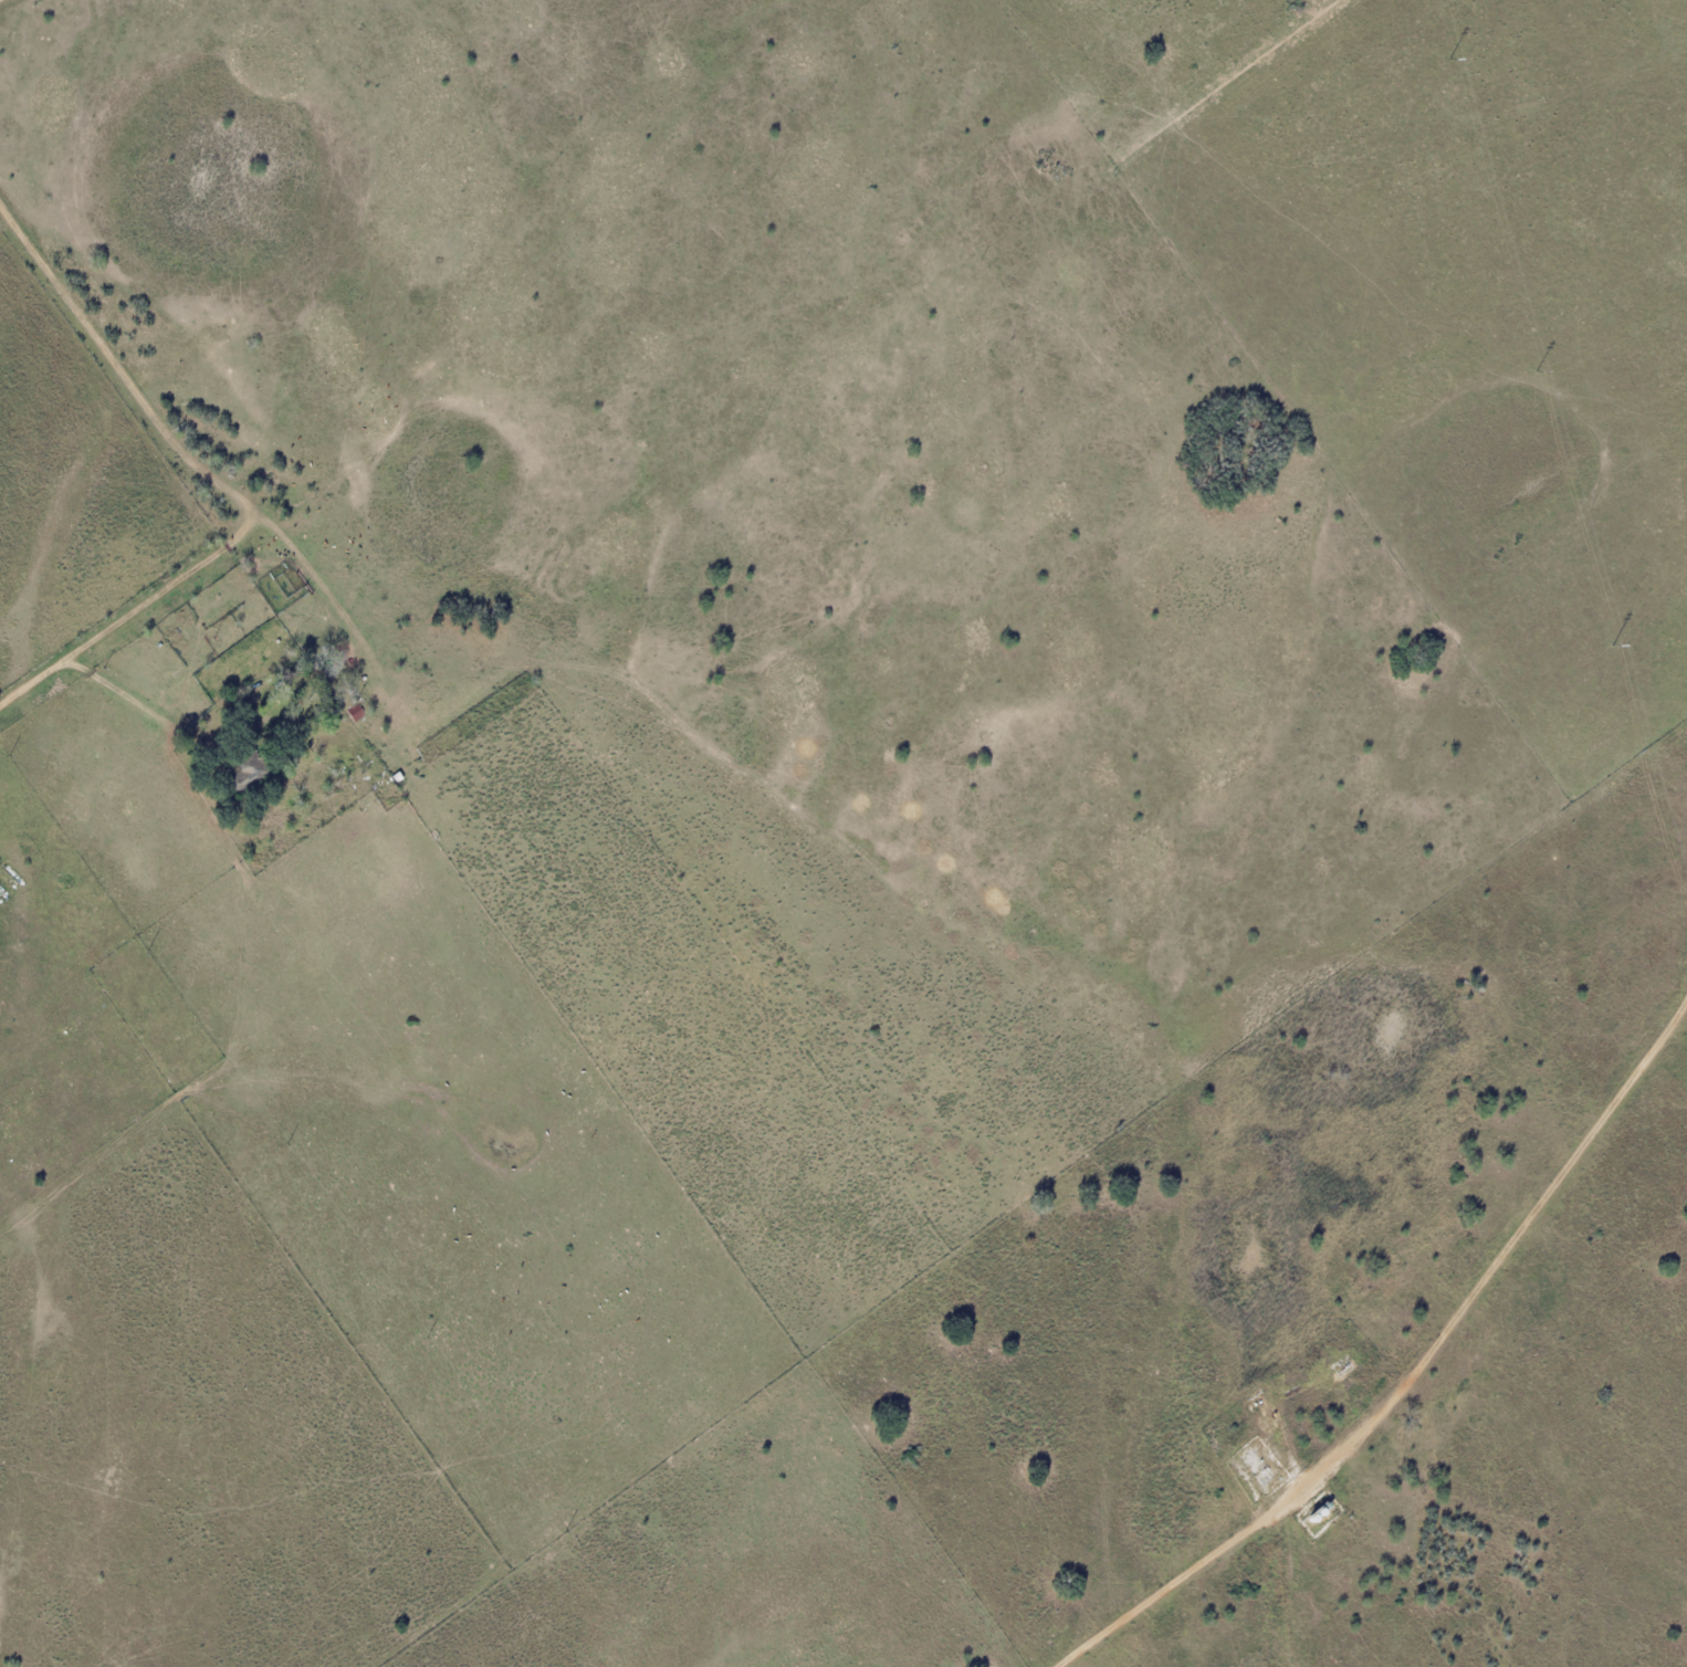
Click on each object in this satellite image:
road: (1248, 1600)

